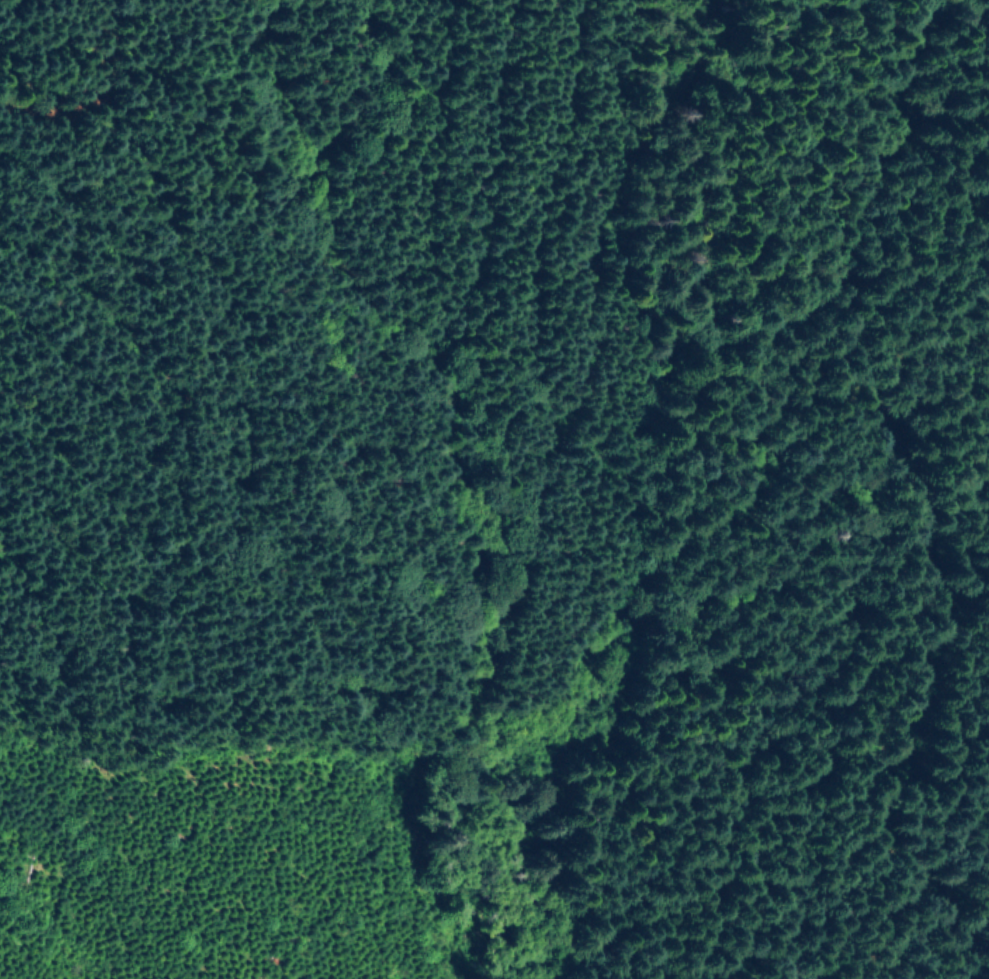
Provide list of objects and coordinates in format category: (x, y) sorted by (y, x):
road: (91, 79)
road: (958, 687)

